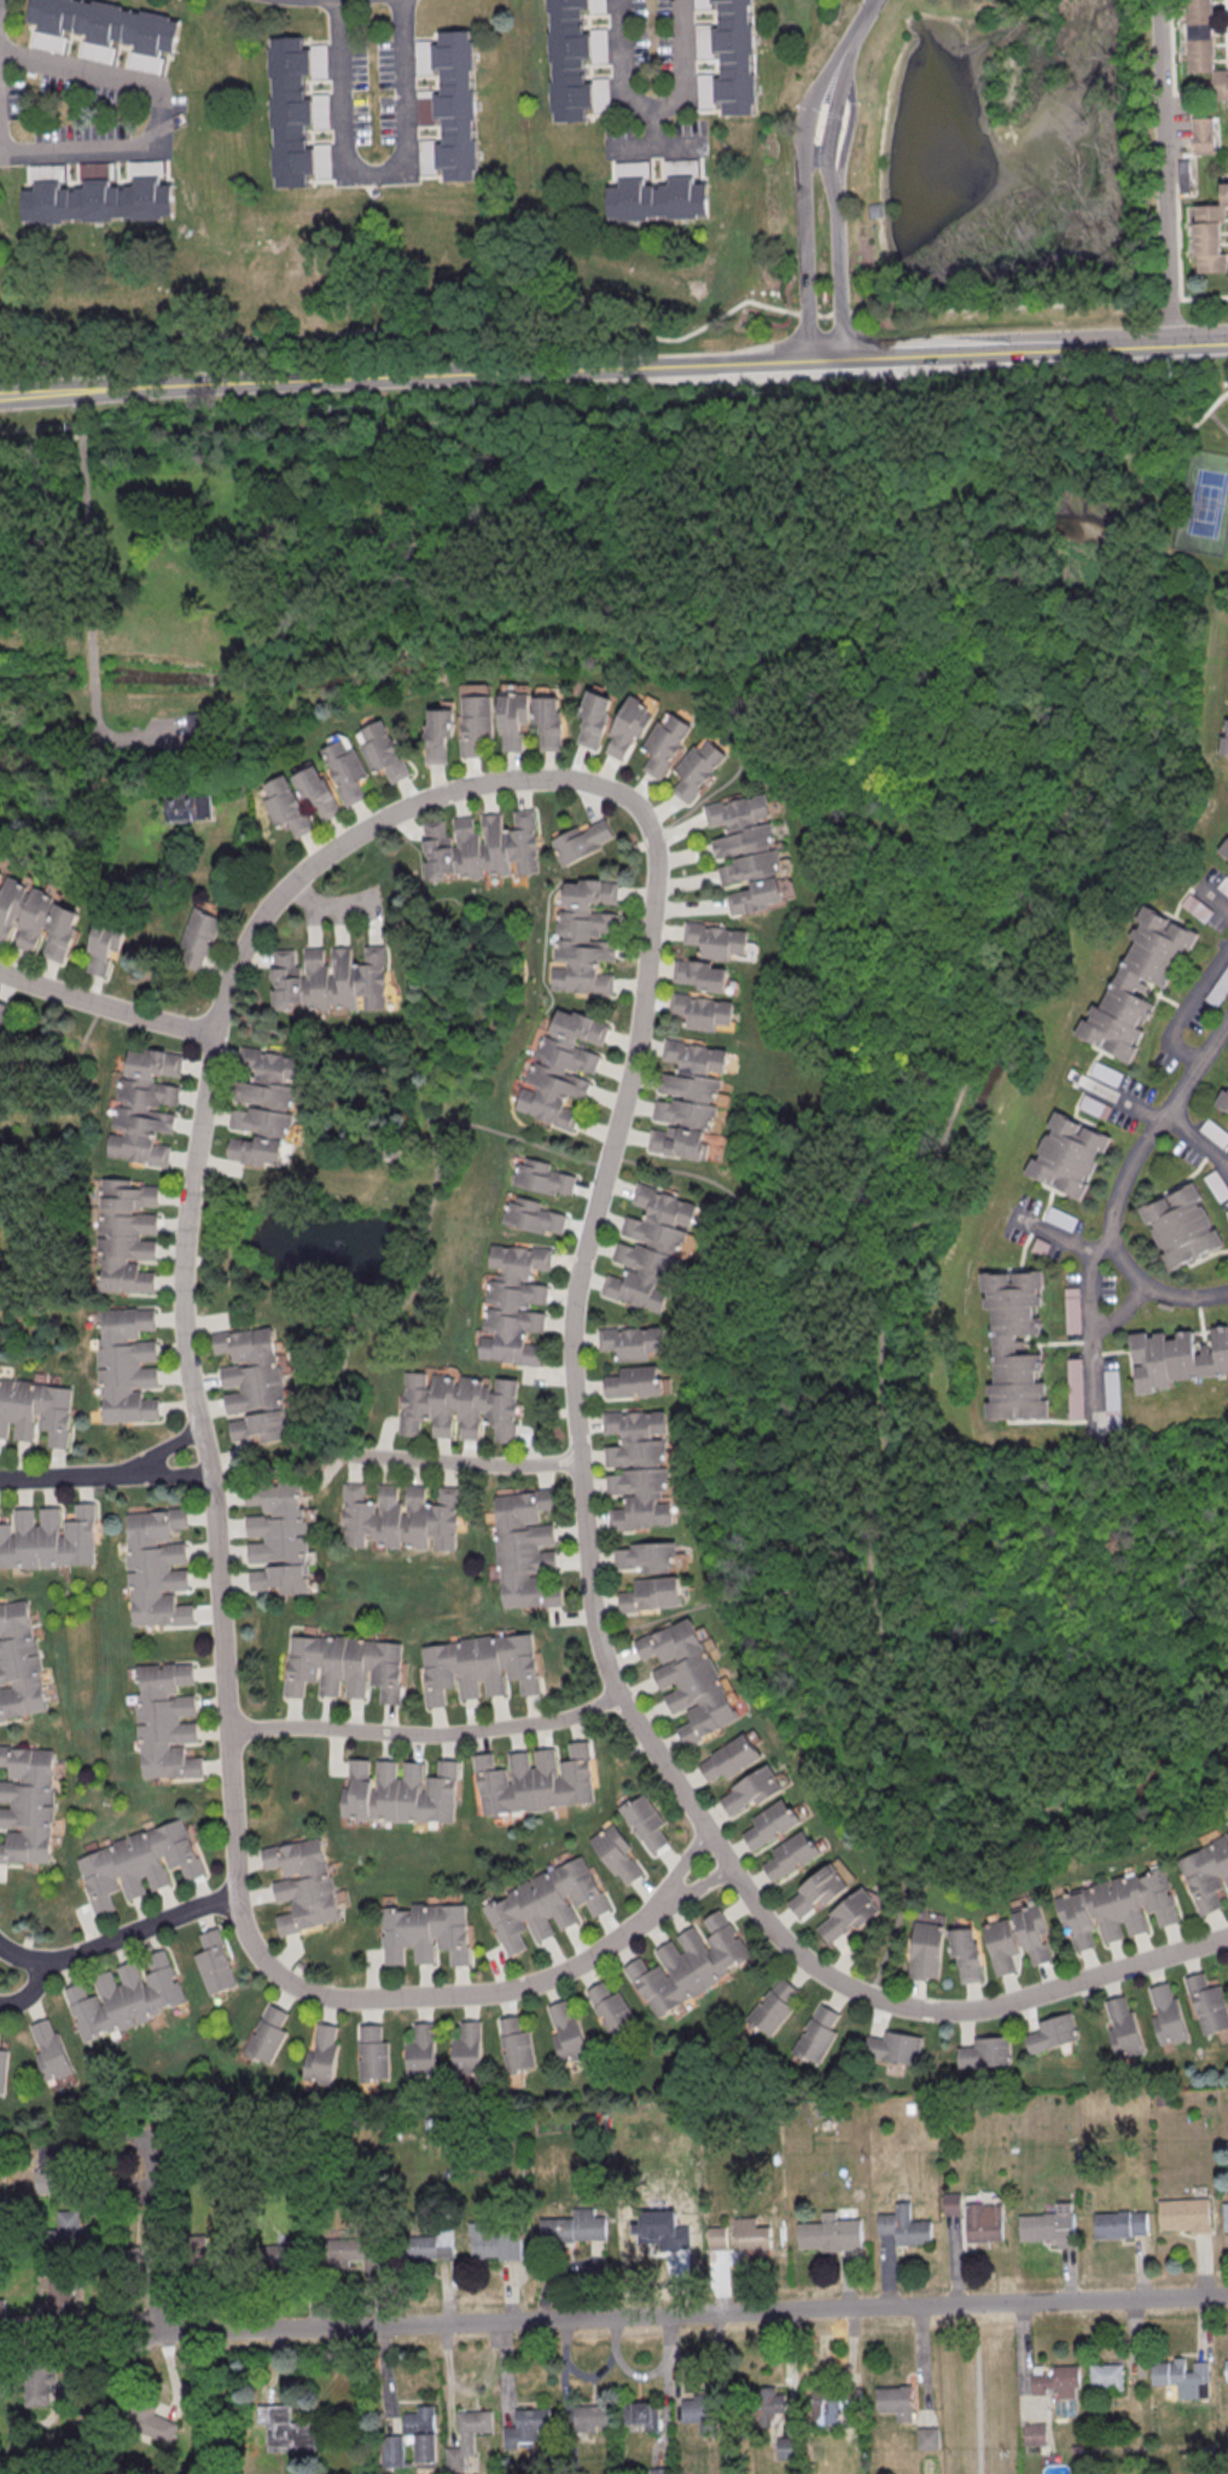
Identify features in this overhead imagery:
parking lot: (1227, 17)
road: (859, 21)
building: (103, 24)
building: (1204, 47)
building: (733, 58)
building: (568, 60)
road: (78, 70)
road: (338, 74)
road: (822, 74)
road: (840, 79)
building: (454, 106)
road: (652, 106)
building: (289, 114)
road: (159, 116)
road: (402, 117)
road: (652, 127)
building: (1200, 137)
road: (652, 146)
road: (80, 147)
road: (811, 156)
road: (1162, 173)
building: (95, 202)
building: (656, 202)
road: (802, 233)
road: (834, 236)
building: (1210, 236)
road: (1035, 306)
road: (838, 312)
road: (805, 315)
road: (822, 315)
road: (405, 324)
road: (1198, 344)
road: (624, 367)
road: (40, 389)
road: (642, 413)
park: (1205, 505)
road: (81, 523)
road: (88, 672)
building: (514, 721)
building: (593, 721)
building: (477, 722)
building: (549, 722)
building: (1226, 724)
building: (628, 726)
building: (198, 728)
building: (440, 732)
road: (116, 737)
building: (1224, 744)
building: (663, 745)
building: (383, 749)
building: (347, 768)
building: (694, 771)
building: (319, 792)
building: (286, 803)
building: (187, 809)
building: (584, 840)
building: (482, 844)
building: (1224, 850)
building: (746, 853)
building: (1223, 884)
road: (1214, 895)
building: (1197, 907)
building: (37, 918)
building: (203, 936)
building: (587, 936)
building: (712, 939)
building: (104, 947)
building: (703, 975)
building: (330, 977)
building: (1137, 982)
building: (1218, 988)
road: (106, 1006)
road: (1188, 1009)
building: (698, 1010)
building: (2, 1012)
road: (983, 1029)
building: (559, 1067)
building: (1106, 1073)
building: (1223, 1099)
building: (685, 1100)
road: (1122, 1100)
building: (146, 1103)
building: (264, 1105)
building: (1095, 1105)
building: (1215, 1132)
road: (1197, 1139)
road: (610, 1149)
building: (1069, 1154)
road: (671, 1171)
building: (546, 1177)
building: (1217, 1184)
road: (1121, 1185)
building: (1227, 1209)
building: (535, 1214)
building: (1061, 1218)
building: (1181, 1226)
building: (128, 1235)
road: (1061, 1238)
building: (647, 1248)
road: (425, 1251)
building: (516, 1302)
building: (1072, 1308)
road: (1123, 1313)
road: (1094, 1340)
building: (634, 1341)
building: (1015, 1342)
building: (1174, 1358)
building: (126, 1363)
building: (251, 1369)
building: (636, 1381)
building: (1075, 1387)
building: (1112, 1399)
building: (461, 1405)
building: (35, 1409)
building: (260, 1427)
road: (164, 1450)
road: (460, 1460)
building: (638, 1469)
road: (169, 1473)
road: (62, 1476)
building: (401, 1516)
building: (47, 1538)
building: (278, 1538)
building: (528, 1549)
building: (647, 1557)
building: (153, 1567)
building: (653, 1595)
road: (737, 1603)
building: (17, 1661)
building: (344, 1665)
building: (481, 1666)
building: (691, 1679)
building: (162, 1719)
road: (285, 1727)
road: (485, 1729)
building: (731, 1759)
building: (532, 1779)
building: (751, 1790)
building: (397, 1791)
building: (27, 1804)
building: (646, 1822)
building: (772, 1823)
building: (619, 1854)
building: (792, 1854)
building: (136, 1862)
road: (680, 1864)
building: (1206, 1871)
building: (303, 1882)
road: (697, 1888)
building: (821, 1888)
building: (543, 1904)
building: (1117, 1907)
building: (848, 1916)
road: (245, 1924)
building: (423, 1932)
building: (1032, 1934)
road: (120, 1936)
building: (996, 1945)
building: (923, 1950)
building: (960, 1952)
building: (216, 1961)
building: (691, 1962)
road: (31, 1990)
building: (123, 1996)
building: (1205, 2003)
building: (775, 2005)
building: (613, 2010)
building: (1164, 2014)
building: (1121, 2026)
building: (569, 2031)
building: (1051, 2032)
building: (270, 2033)
building: (816, 2034)
building: (518, 2042)
building: (468, 2045)
building: (892, 2046)
building: (50, 2048)
building: (421, 2050)
building: (324, 2051)
building: (374, 2051)
building: (983, 2052)
building: (2, 2066)
building: (54, 2165)
building: (949, 2202)
building: (1182, 2213)
building: (1223, 2215)
building: (980, 2222)
building: (1117, 2223)
building: (65, 2225)
building: (902, 2225)
building: (1048, 2225)
building: (570, 2226)
building: (827, 2232)
building: (749, 2234)
building: (715, 2237)
building: (491, 2241)
building: (425, 2243)
building: (357, 2249)
building: (196, 2251)
building: (274, 2255)
building: (57, 2286)
road: (593, 2318)
road: (651, 2369)
building: (1224, 2369)
building: (37, 2373)
road: (586, 2375)
building: (1104, 2375)
building: (1178, 2376)
building: (1054, 2380)
road: (979, 2389)
building: (892, 2400)
building: (770, 2402)
building: (831, 2404)
building: (639, 2412)
building: (698, 2414)
building: (141, 2416)
building: (587, 2416)
building: (523, 2426)
building: (281, 2428)
building: (419, 2431)
building: (1030, 2433)
building: (464, 2434)
building: (924, 2437)
building: (787, 2447)
building: (662, 2473)

